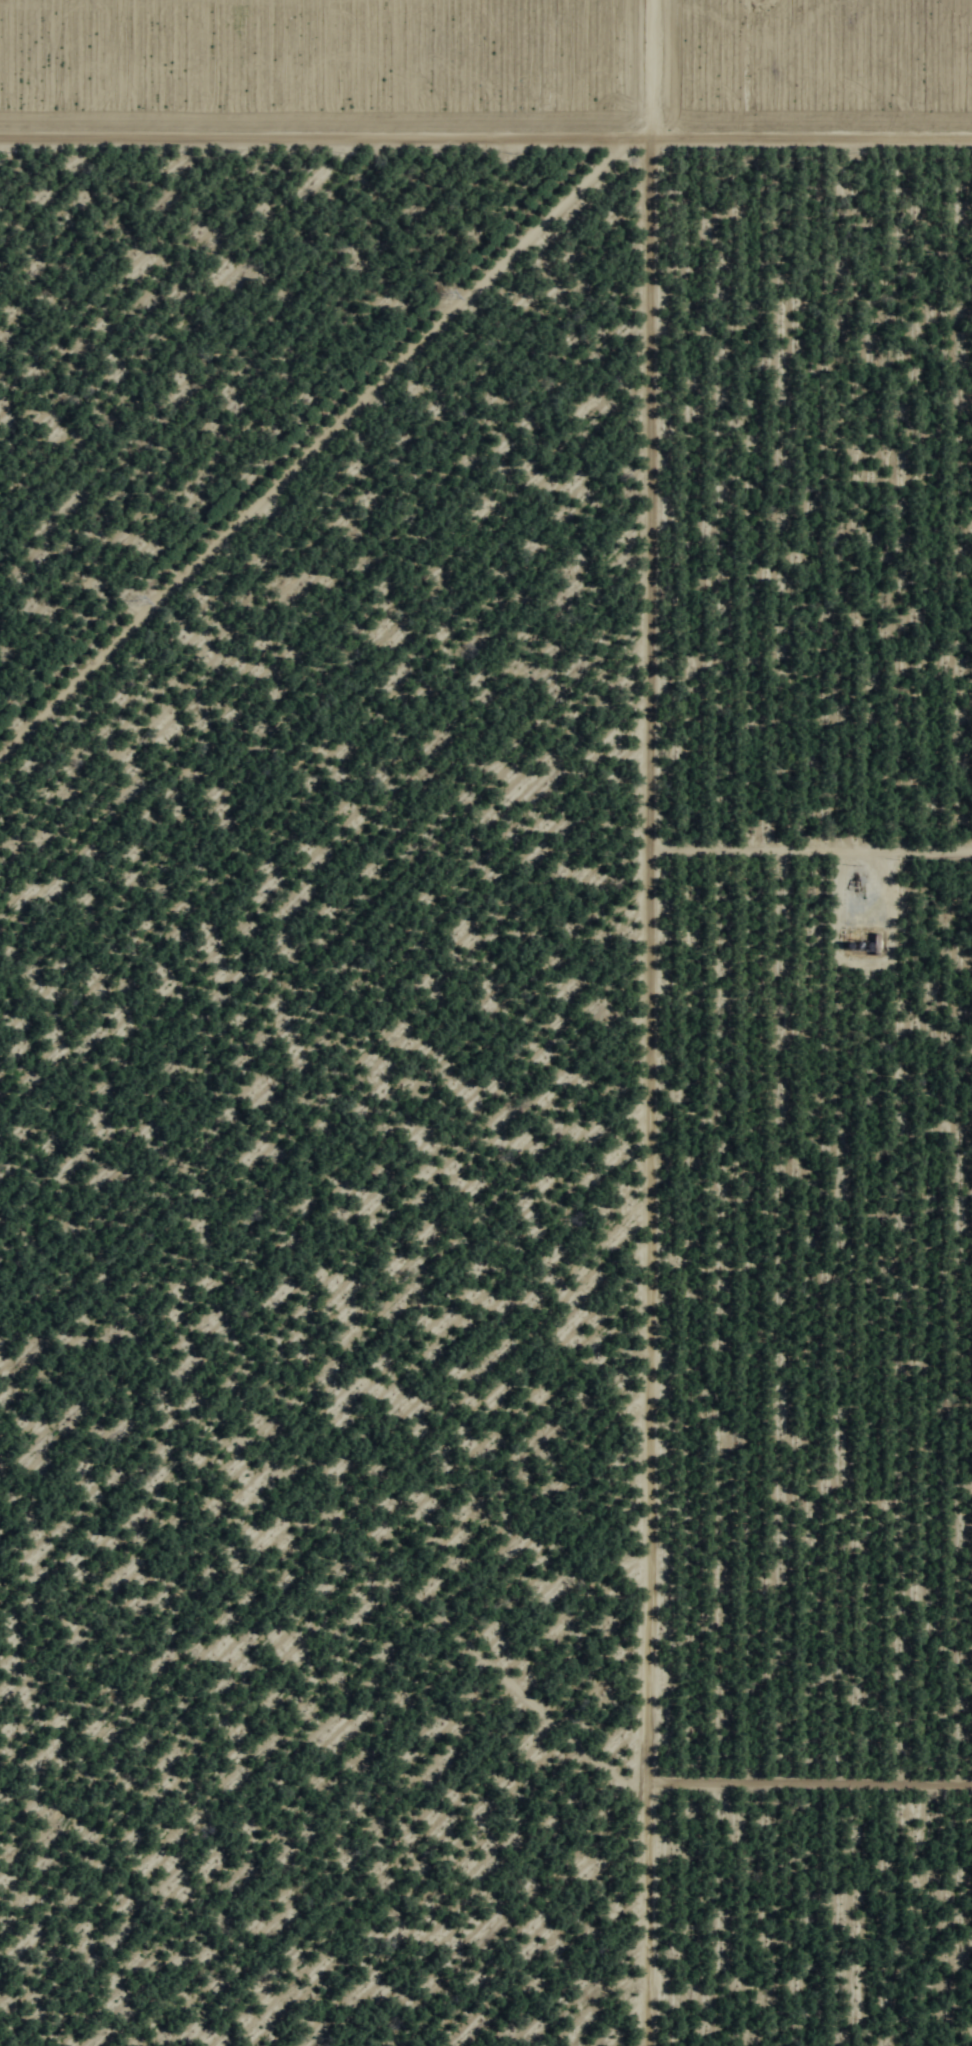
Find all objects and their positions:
crop: (487, 75)
road: (485, 91)
power tower: (453, 289)
power tower: (137, 597)
road: (811, 1790)

